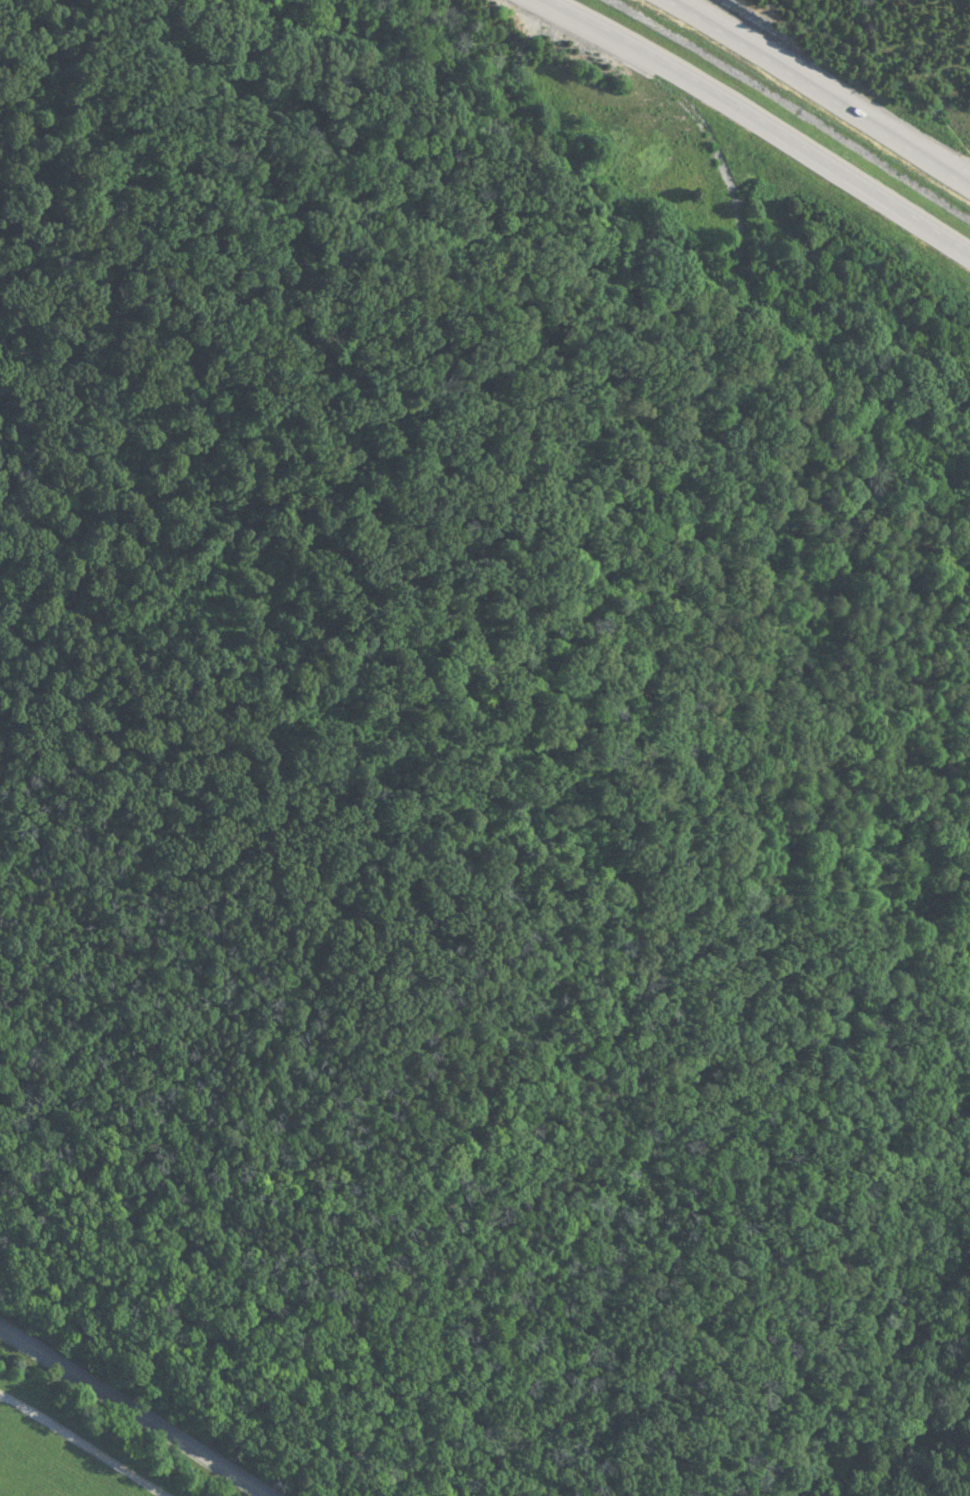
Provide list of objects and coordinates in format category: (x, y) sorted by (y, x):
road: (818, 92)
road: (761, 121)
road: (138, 1410)

